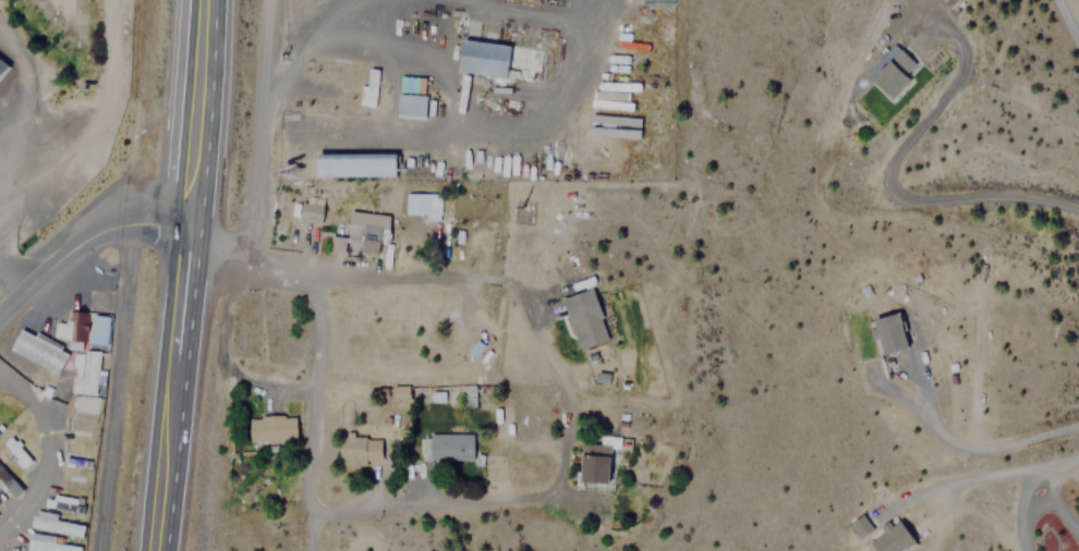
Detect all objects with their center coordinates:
road: (1063, 33)
building: (499, 59)
building: (4, 68)
building: (894, 71)
building: (369, 86)
building: (410, 107)
road: (192, 114)
road: (92, 123)
road: (255, 124)
building: (618, 126)
road: (92, 163)
building: (355, 163)
road: (876, 185)
building: (422, 204)
building: (305, 210)
building: (365, 231)
road: (78, 240)
building: (339, 244)
road: (310, 277)
road: (174, 294)
building: (587, 318)
building: (449, 325)
building: (886, 333)
building: (85, 346)
building: (37, 350)
road: (112, 385)
road: (314, 391)
building: (402, 391)
building: (470, 395)
building: (271, 427)
building: (0, 431)
road: (965, 446)
building: (446, 448)
building: (356, 450)
building: (17, 452)
road: (160, 455)
building: (596, 463)
road: (978, 470)
building: (9, 481)
road: (429, 501)
building: (62, 525)
building: (859, 525)
building: (892, 537)
building: (49, 543)

